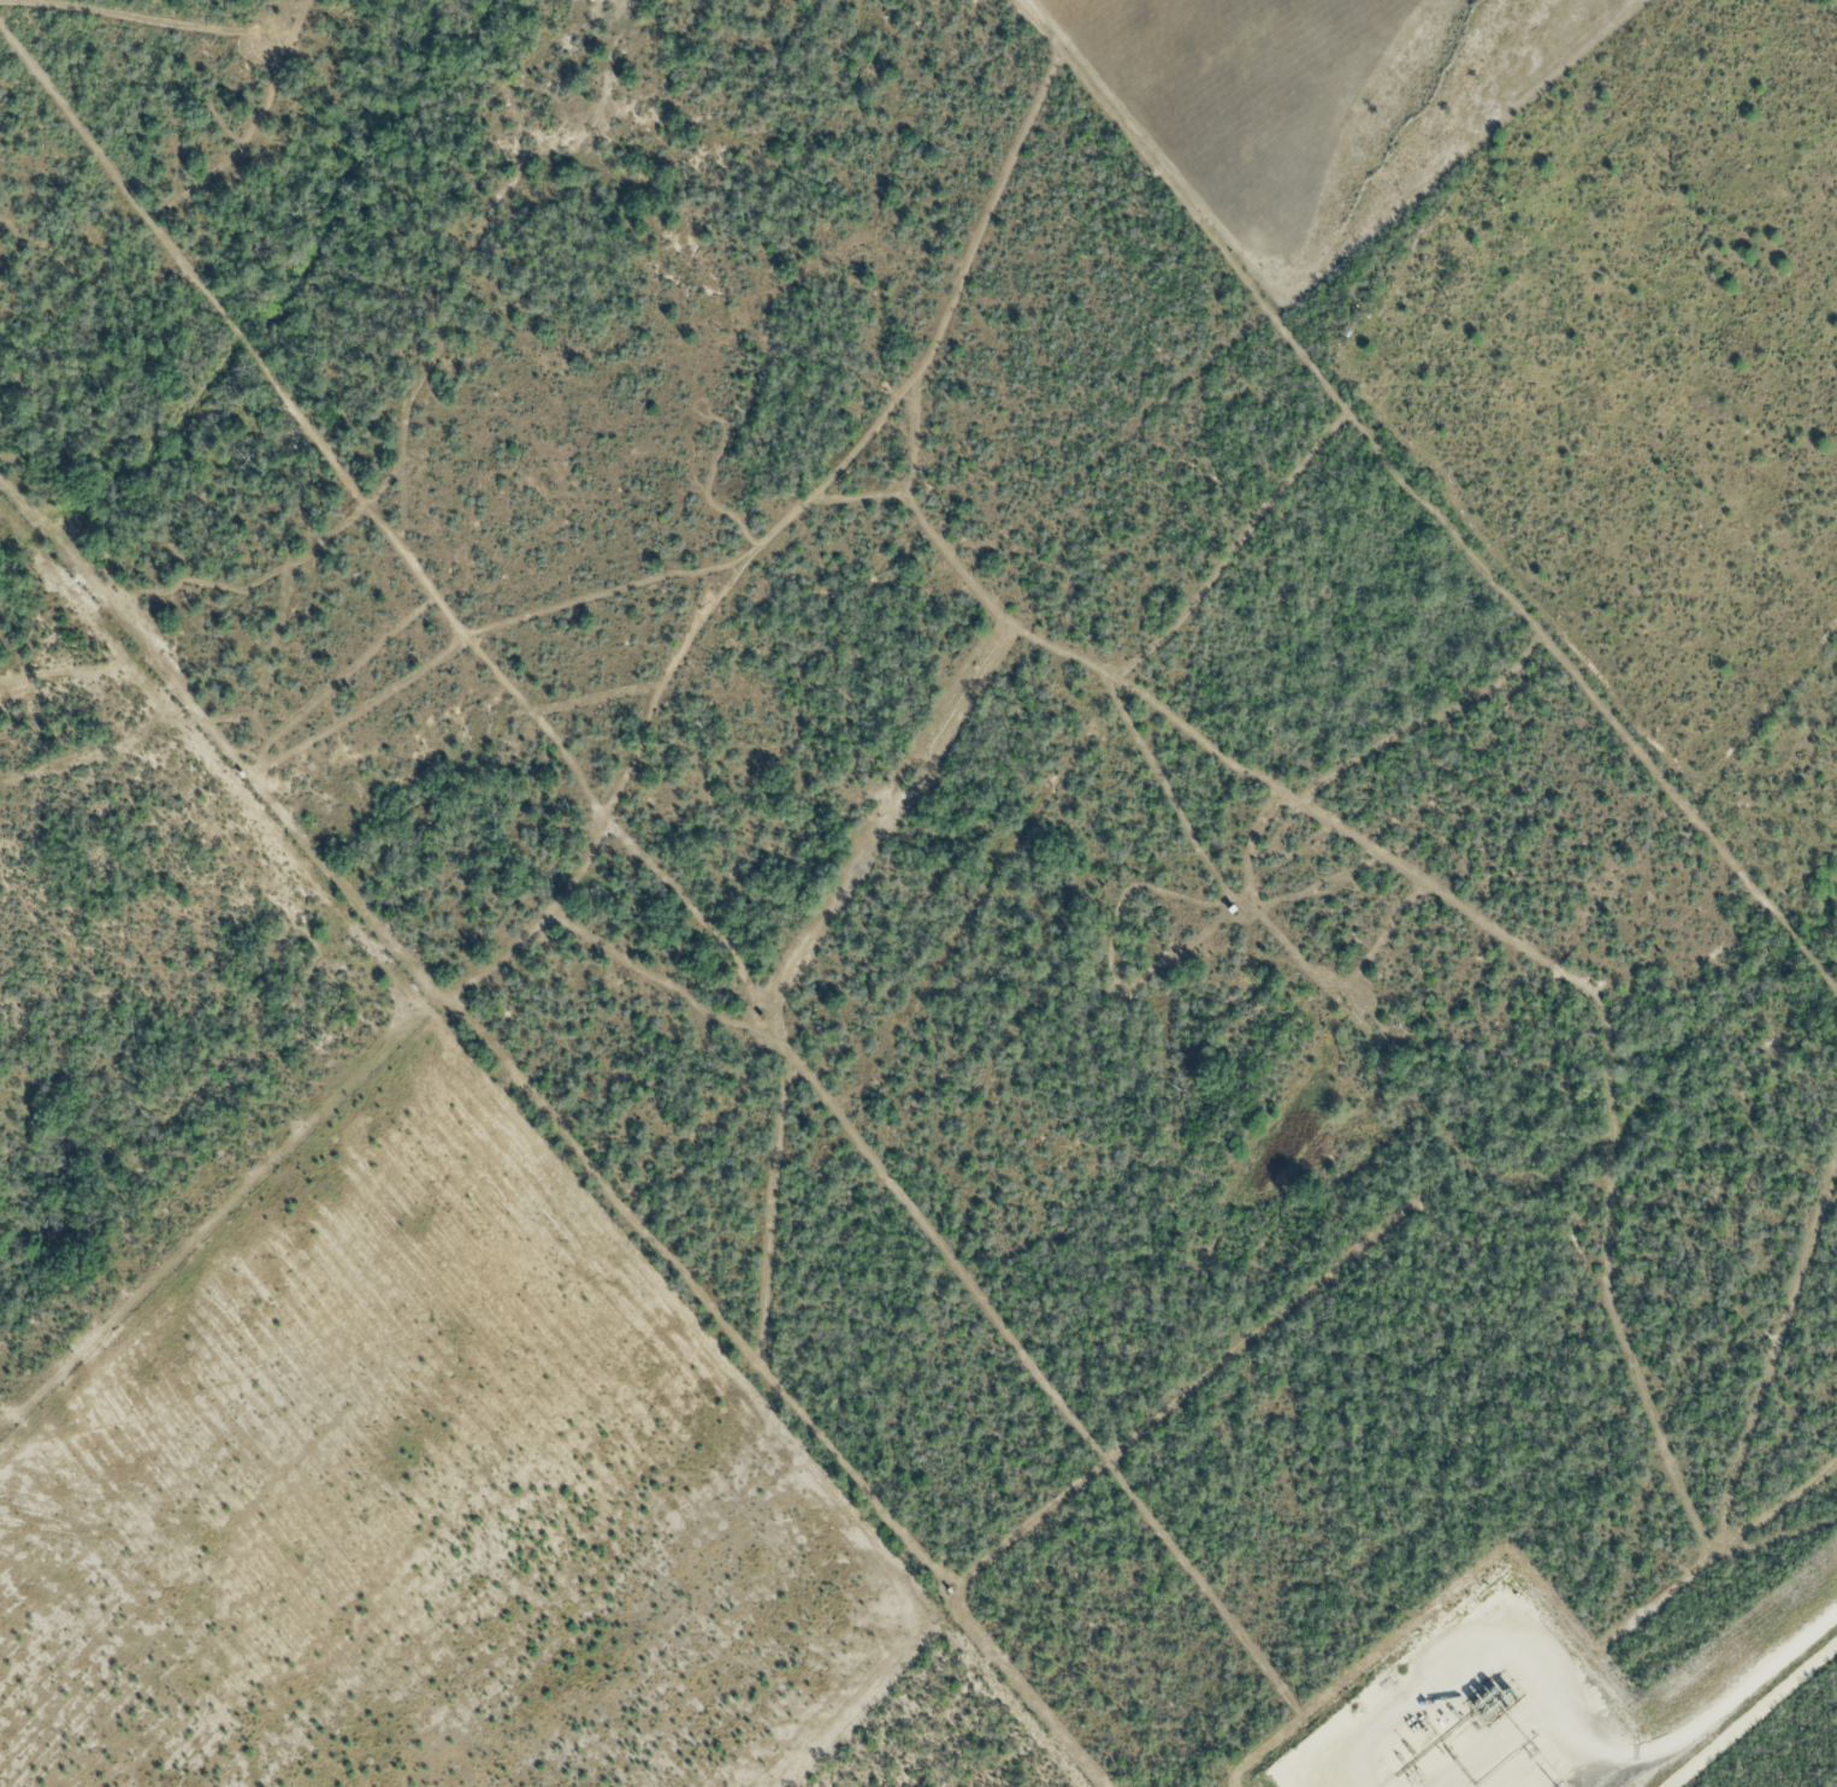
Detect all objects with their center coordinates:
road: (1753, 1714)

